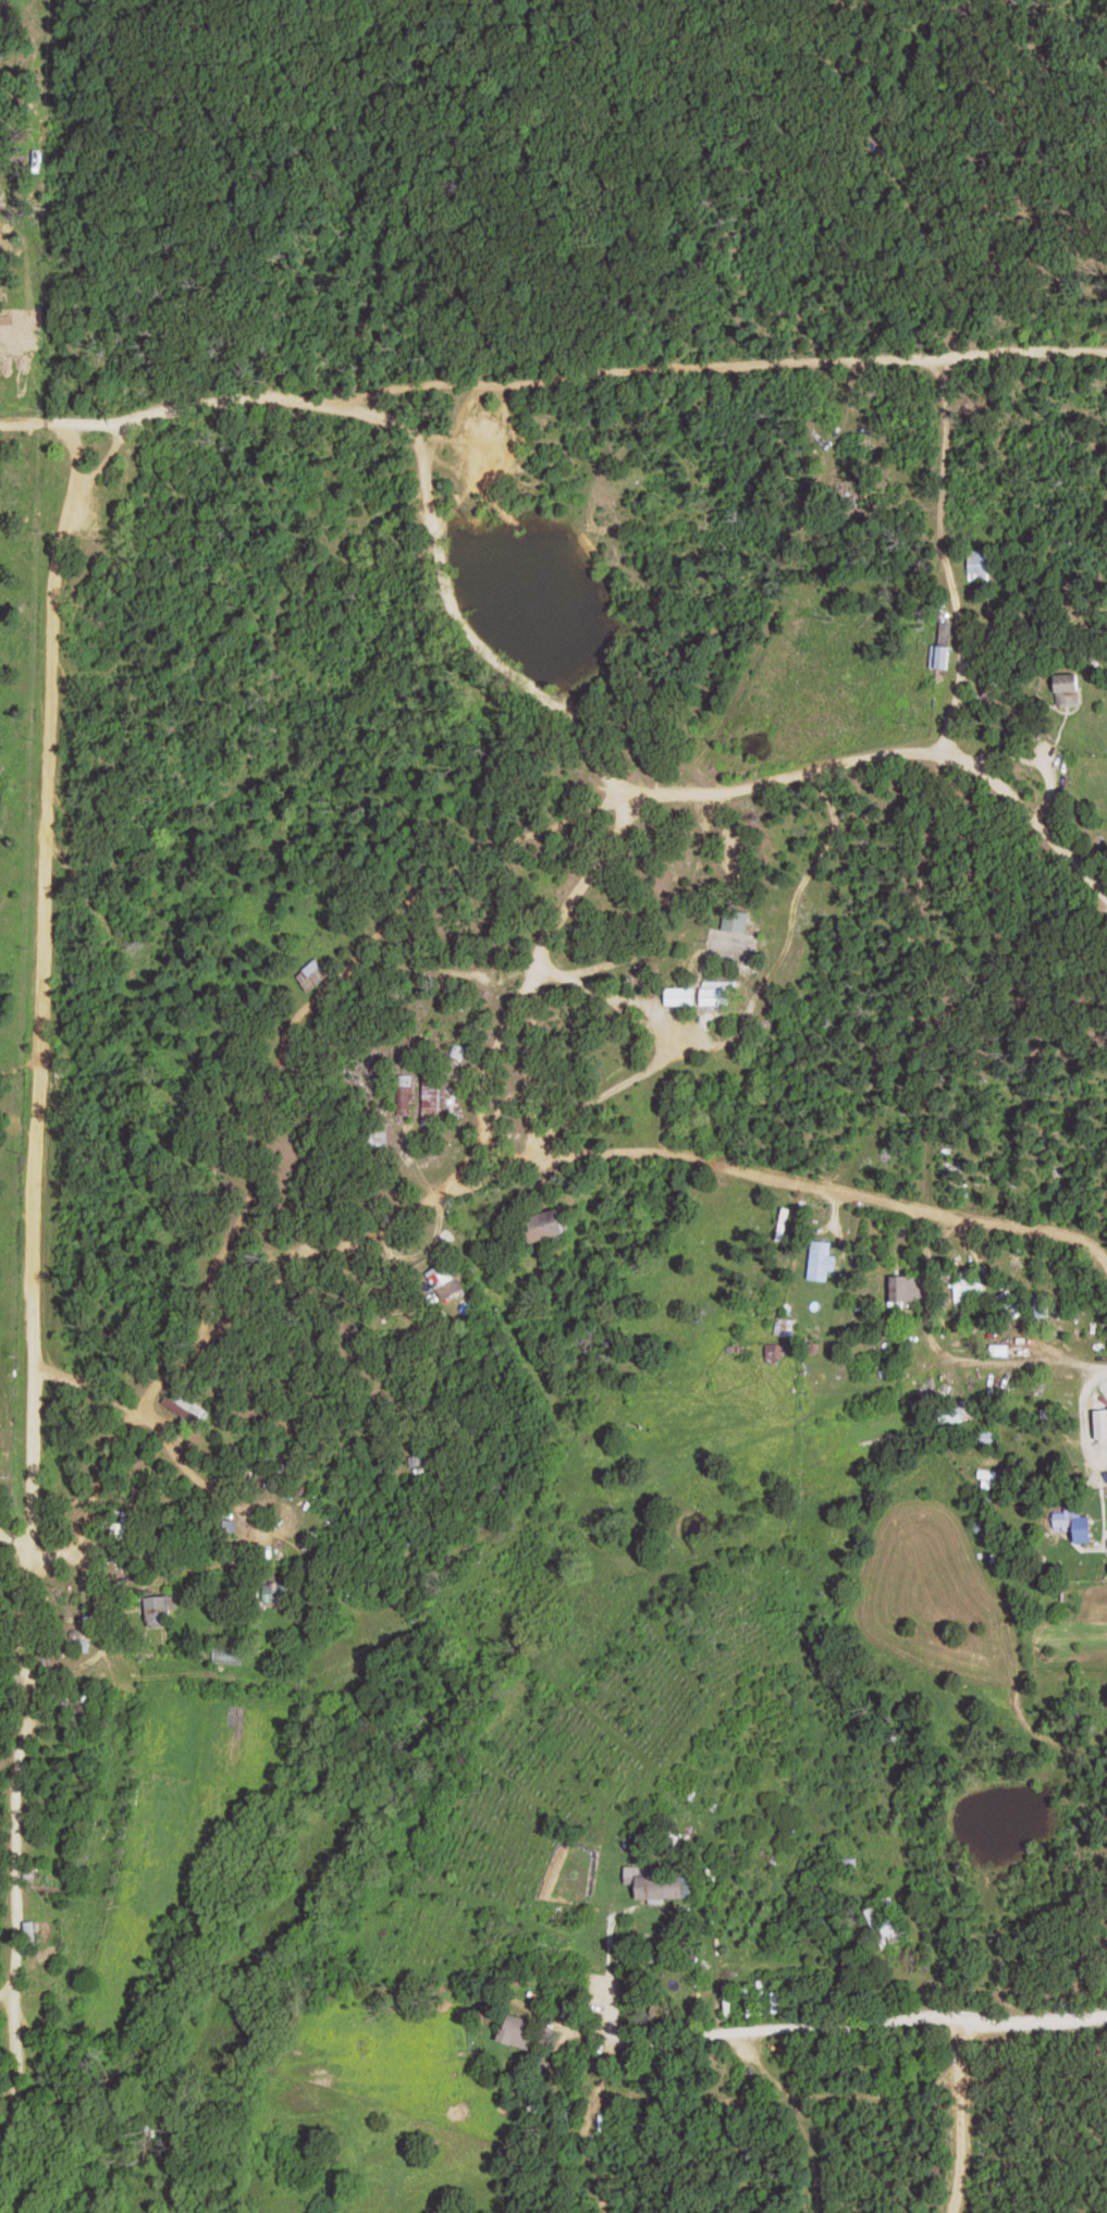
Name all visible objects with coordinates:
road: (1023, 354)
road: (470, 393)
building: (980, 563)
road: (945, 566)
road: (468, 615)
building: (942, 648)
building: (1066, 689)
road: (612, 812)
road: (1038, 816)
building: (735, 921)
building: (312, 975)
building: (717, 994)
building: (679, 996)
building: (457, 1052)
building: (406, 1093)
building: (432, 1093)
road: (285, 1131)
road: (453, 1179)
building: (540, 1227)
building: (822, 1262)
building: (444, 1280)
road: (999, 1283)
building: (899, 1290)
building: (969, 1290)
road: (502, 1298)
building: (1042, 1305)
building: (999, 1350)
road: (1023, 1352)
road: (1096, 1417)
building: (1068, 1519)
building: (230, 1525)
building: (270, 1591)
road: (49, 1607)
building: (160, 1609)
road: (19, 1729)
building: (30, 1877)
building: (662, 1885)
building: (887, 1922)
building: (29, 1930)
road: (612, 1965)
building: (750, 2001)
road: (1026, 2021)
building: (517, 2031)
road: (777, 2034)
road: (803, 2115)
road: (959, 2117)

